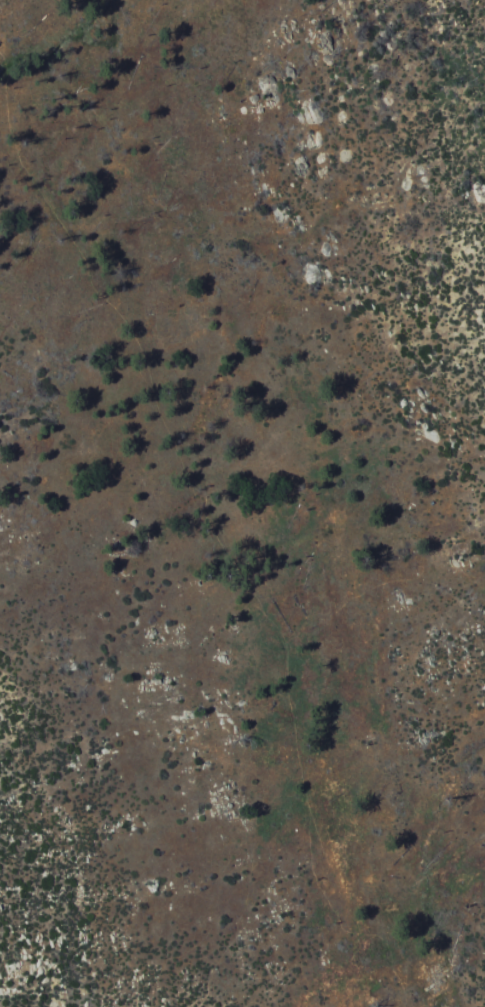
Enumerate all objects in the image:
road: (226, 526)

